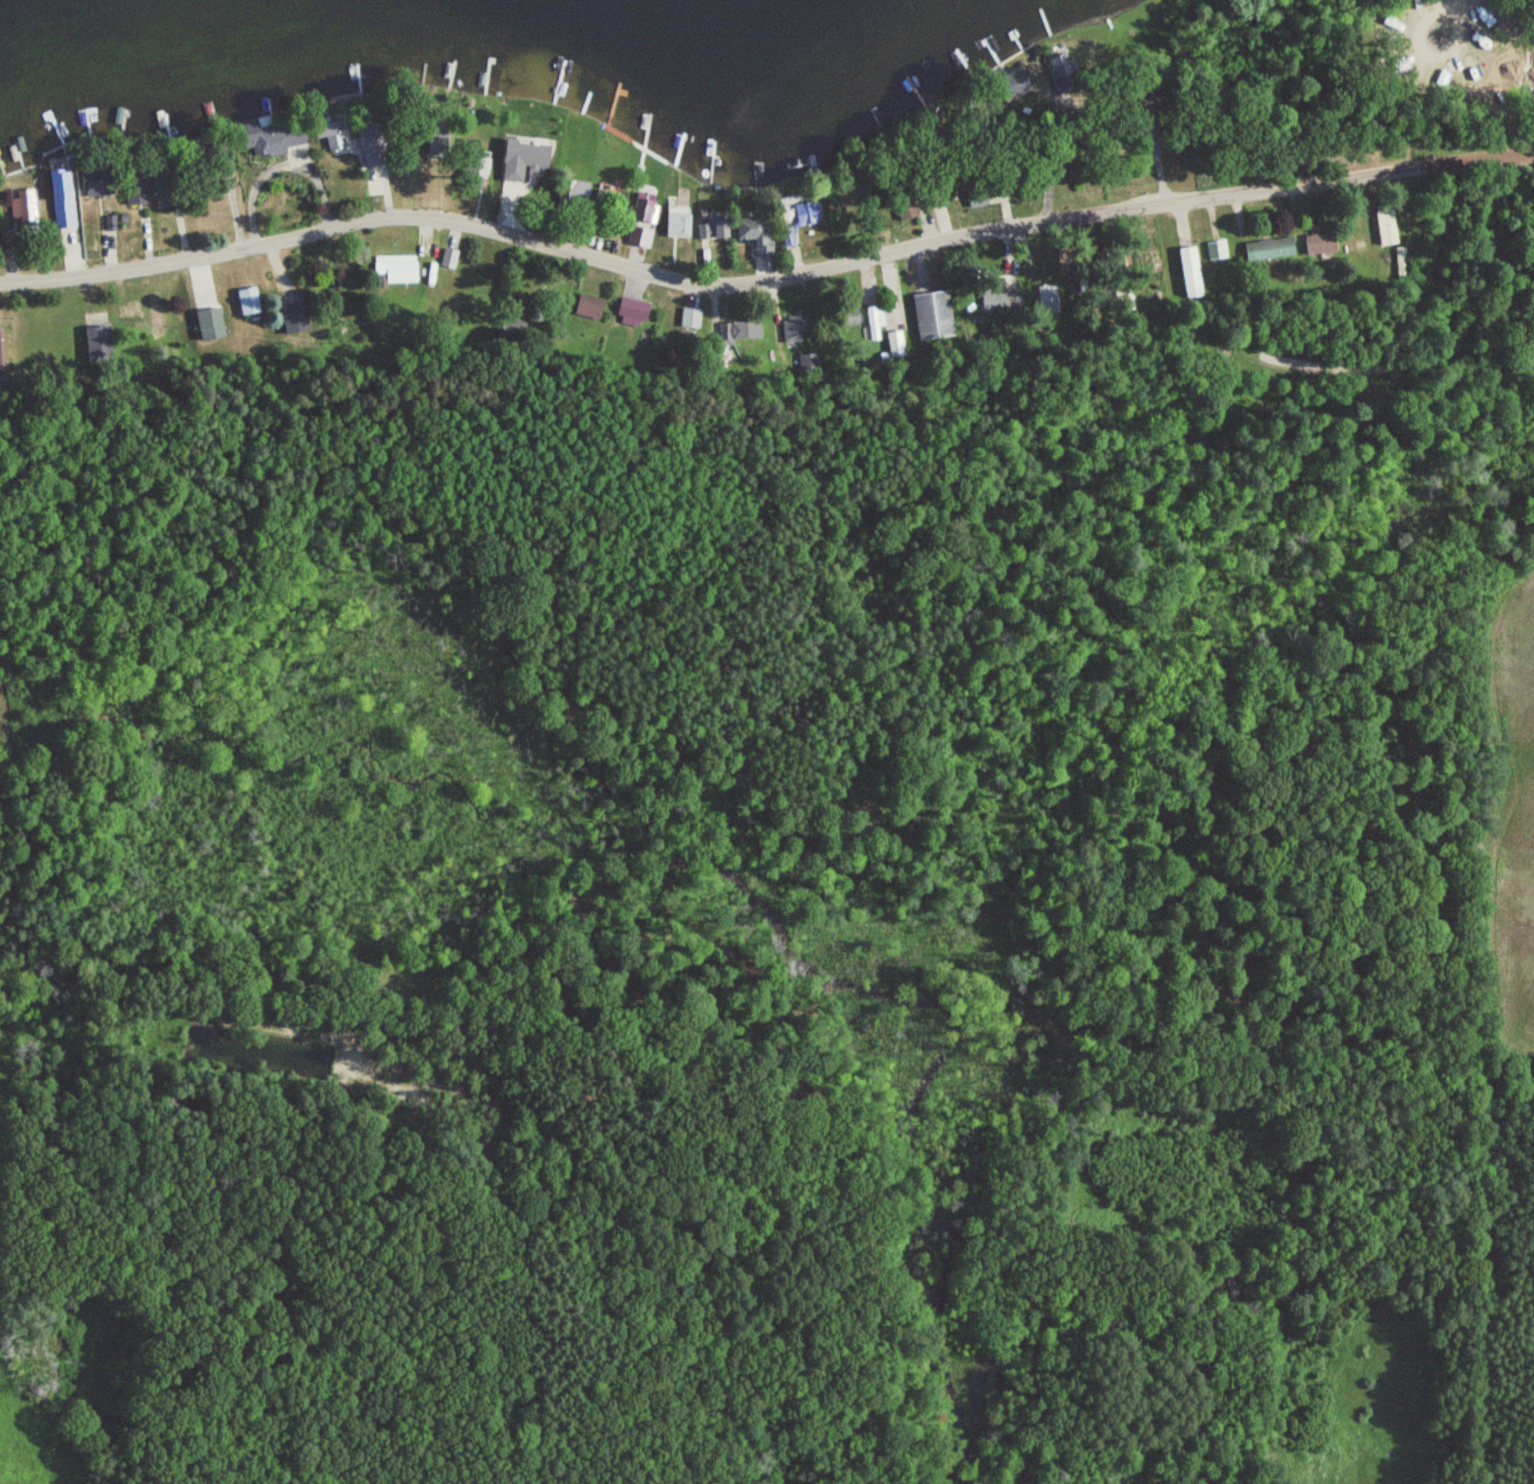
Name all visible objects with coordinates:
building: (1054, 63)
building: (277, 135)
building: (328, 135)
building: (366, 136)
building: (433, 141)
building: (475, 161)
building: (97, 183)
building: (135, 187)
building: (163, 188)
building: (935, 195)
building: (975, 198)
building: (60, 199)
building: (904, 208)
building: (23, 210)
building: (645, 211)
building: (711, 226)
building: (1386, 228)
building: (751, 235)
building: (789, 236)
building: (638, 237)
building: (1319, 244)
building: (1269, 249)
building: (448, 260)
building: (396, 271)
building: (1188, 272)
road: (764, 275)
building: (993, 300)
building: (247, 302)
building: (588, 307)
building: (155, 310)
building: (632, 310)
building: (129, 311)
building: (931, 316)
building: (850, 318)
building: (295, 319)
building: (209, 322)
building: (875, 322)
building: (795, 329)
building: (741, 330)
building: (2, 351)

